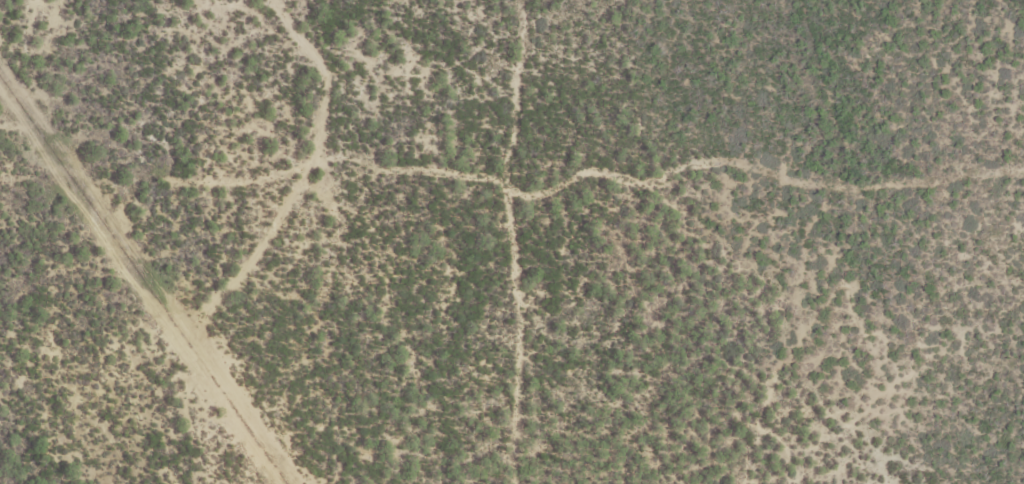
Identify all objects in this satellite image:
road: (96, 341)

